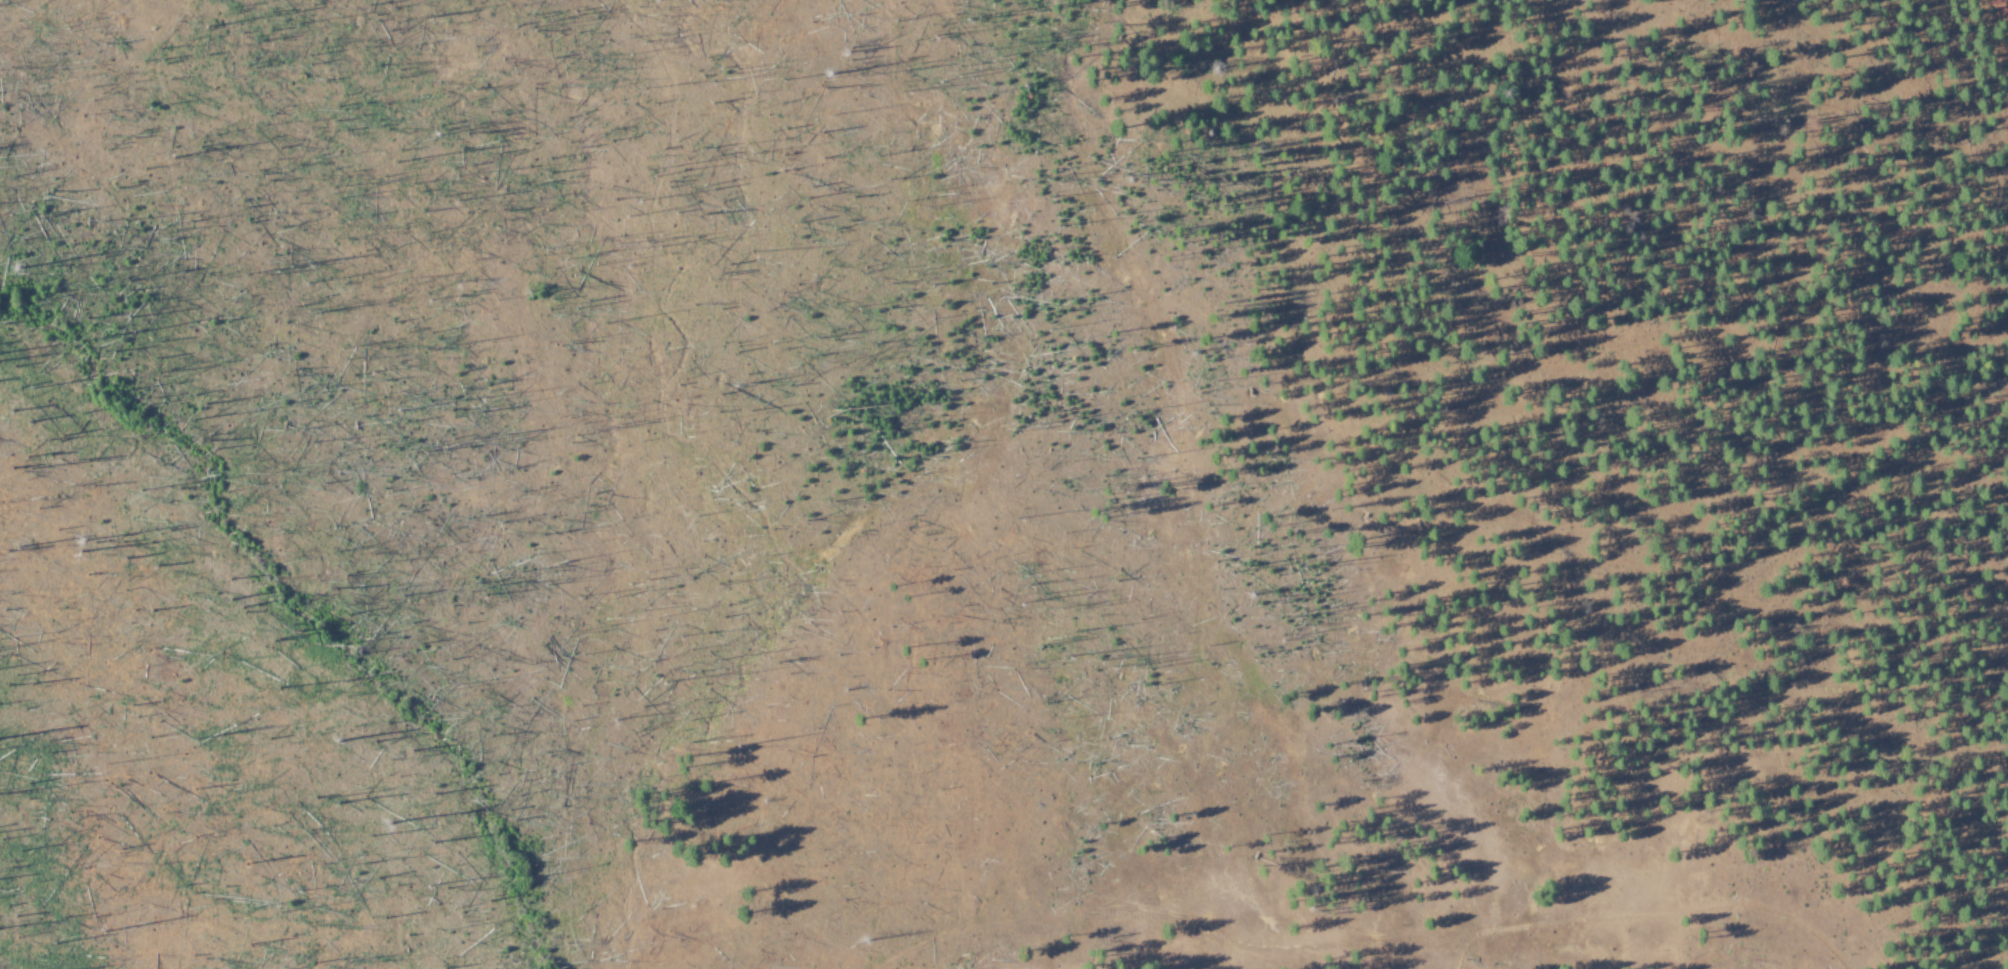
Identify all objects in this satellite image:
road: (2007, 0)

